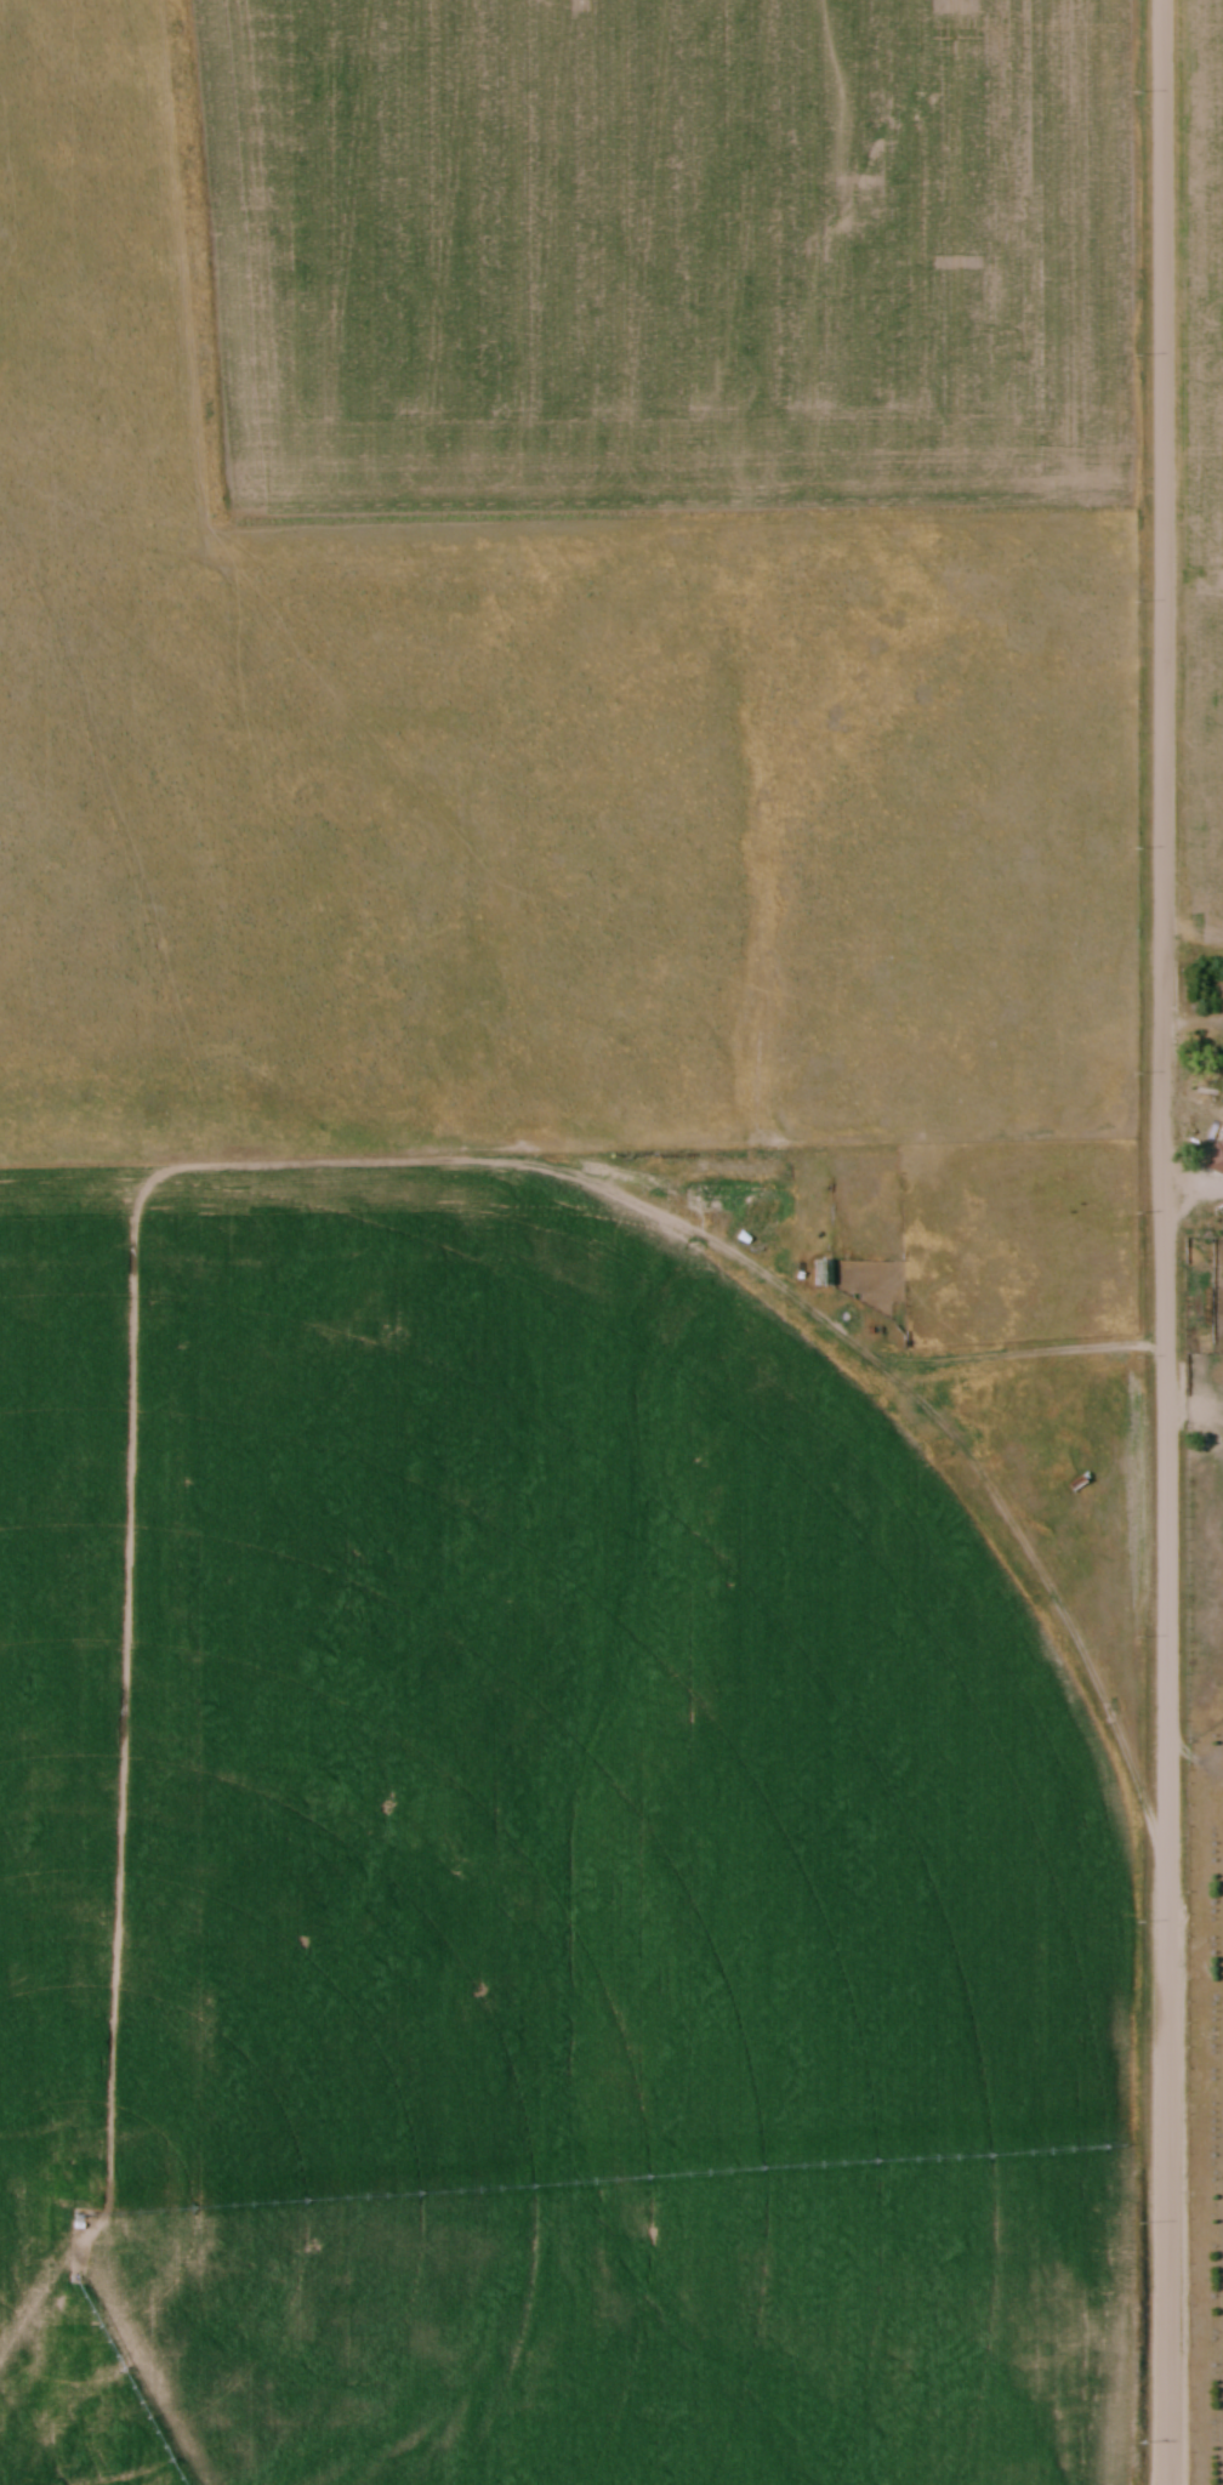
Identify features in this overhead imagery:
building: (1221, 1139)
road: (1161, 1242)
building: (824, 1275)

